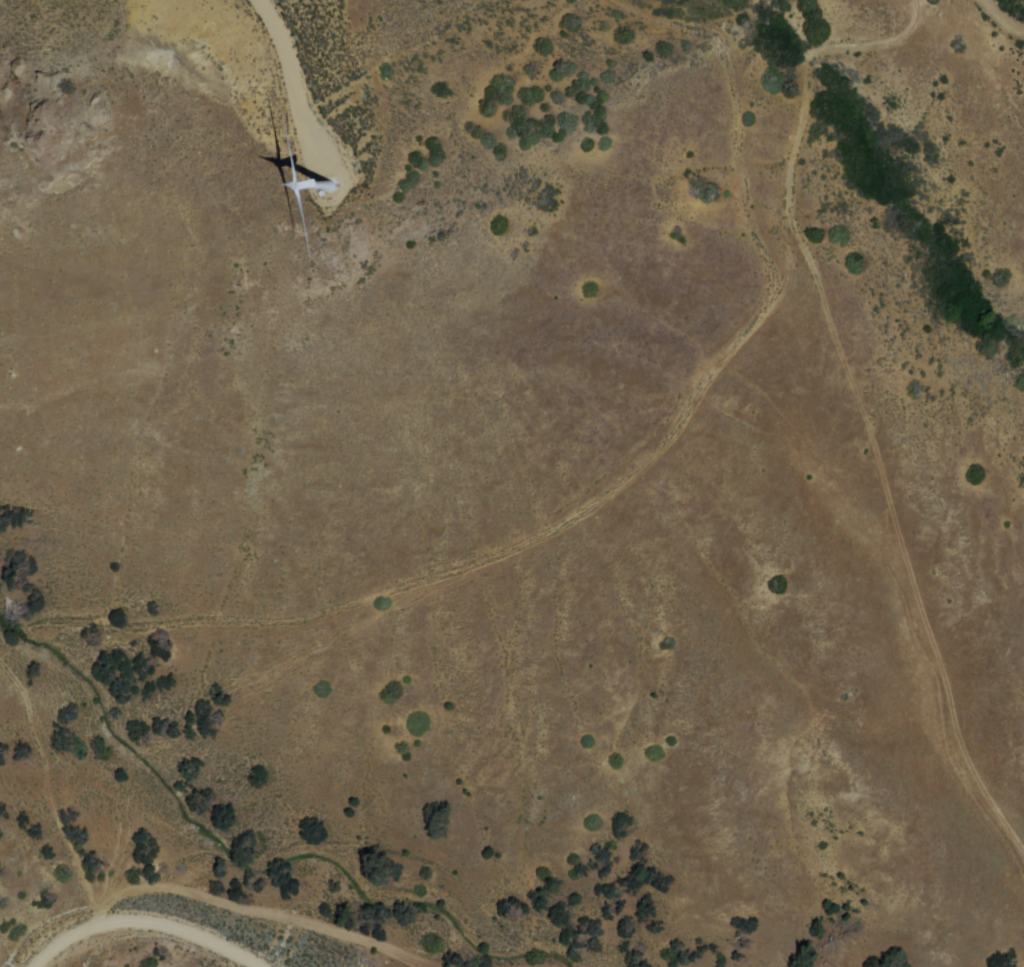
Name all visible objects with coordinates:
road: (1001, 16)
wind turbine: (315, 164)
road: (40, 789)
road: (232, 904)
road: (536, 937)
road: (1010, 960)

